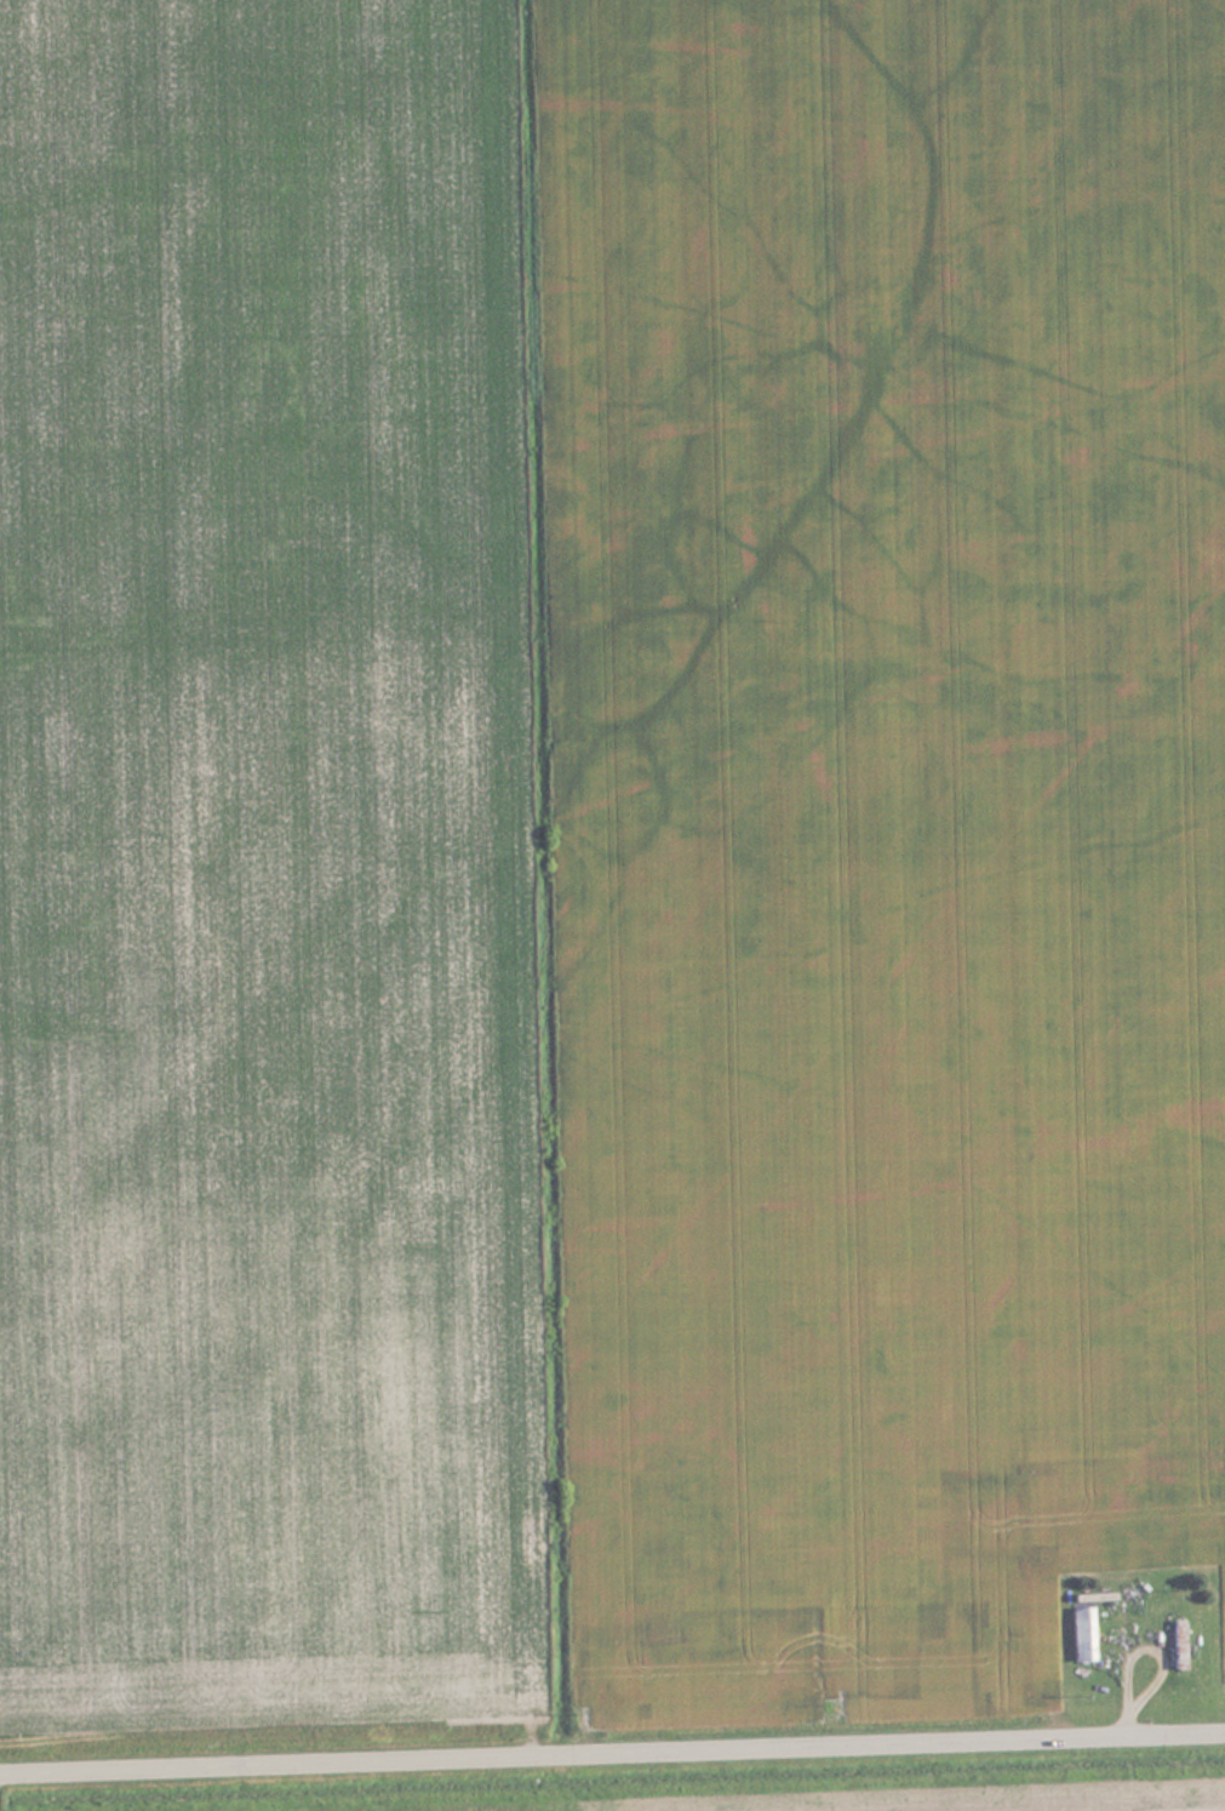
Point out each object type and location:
building: (1081, 1633)
building: (1177, 1644)
road: (612, 1753)

